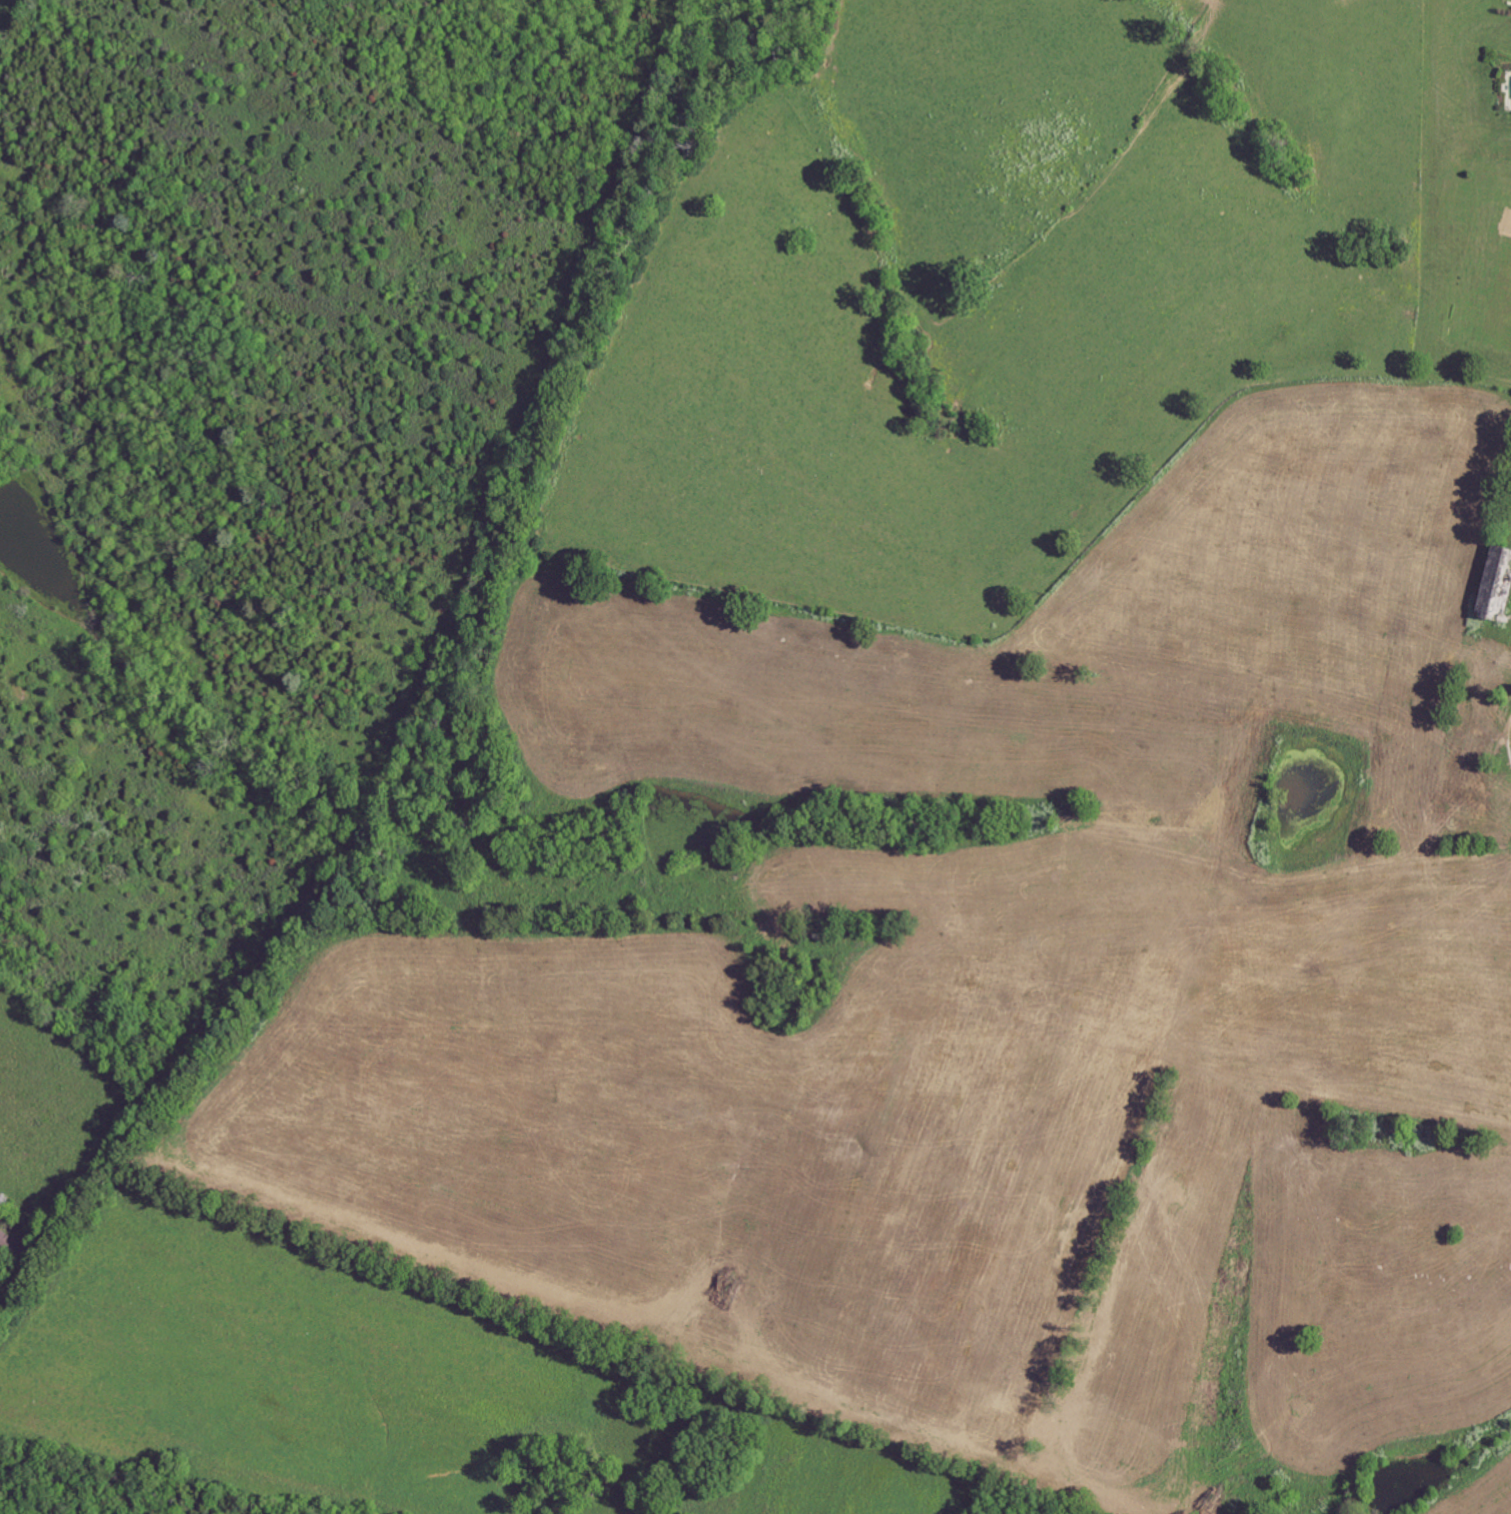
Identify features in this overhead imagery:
building: (1500, 585)

